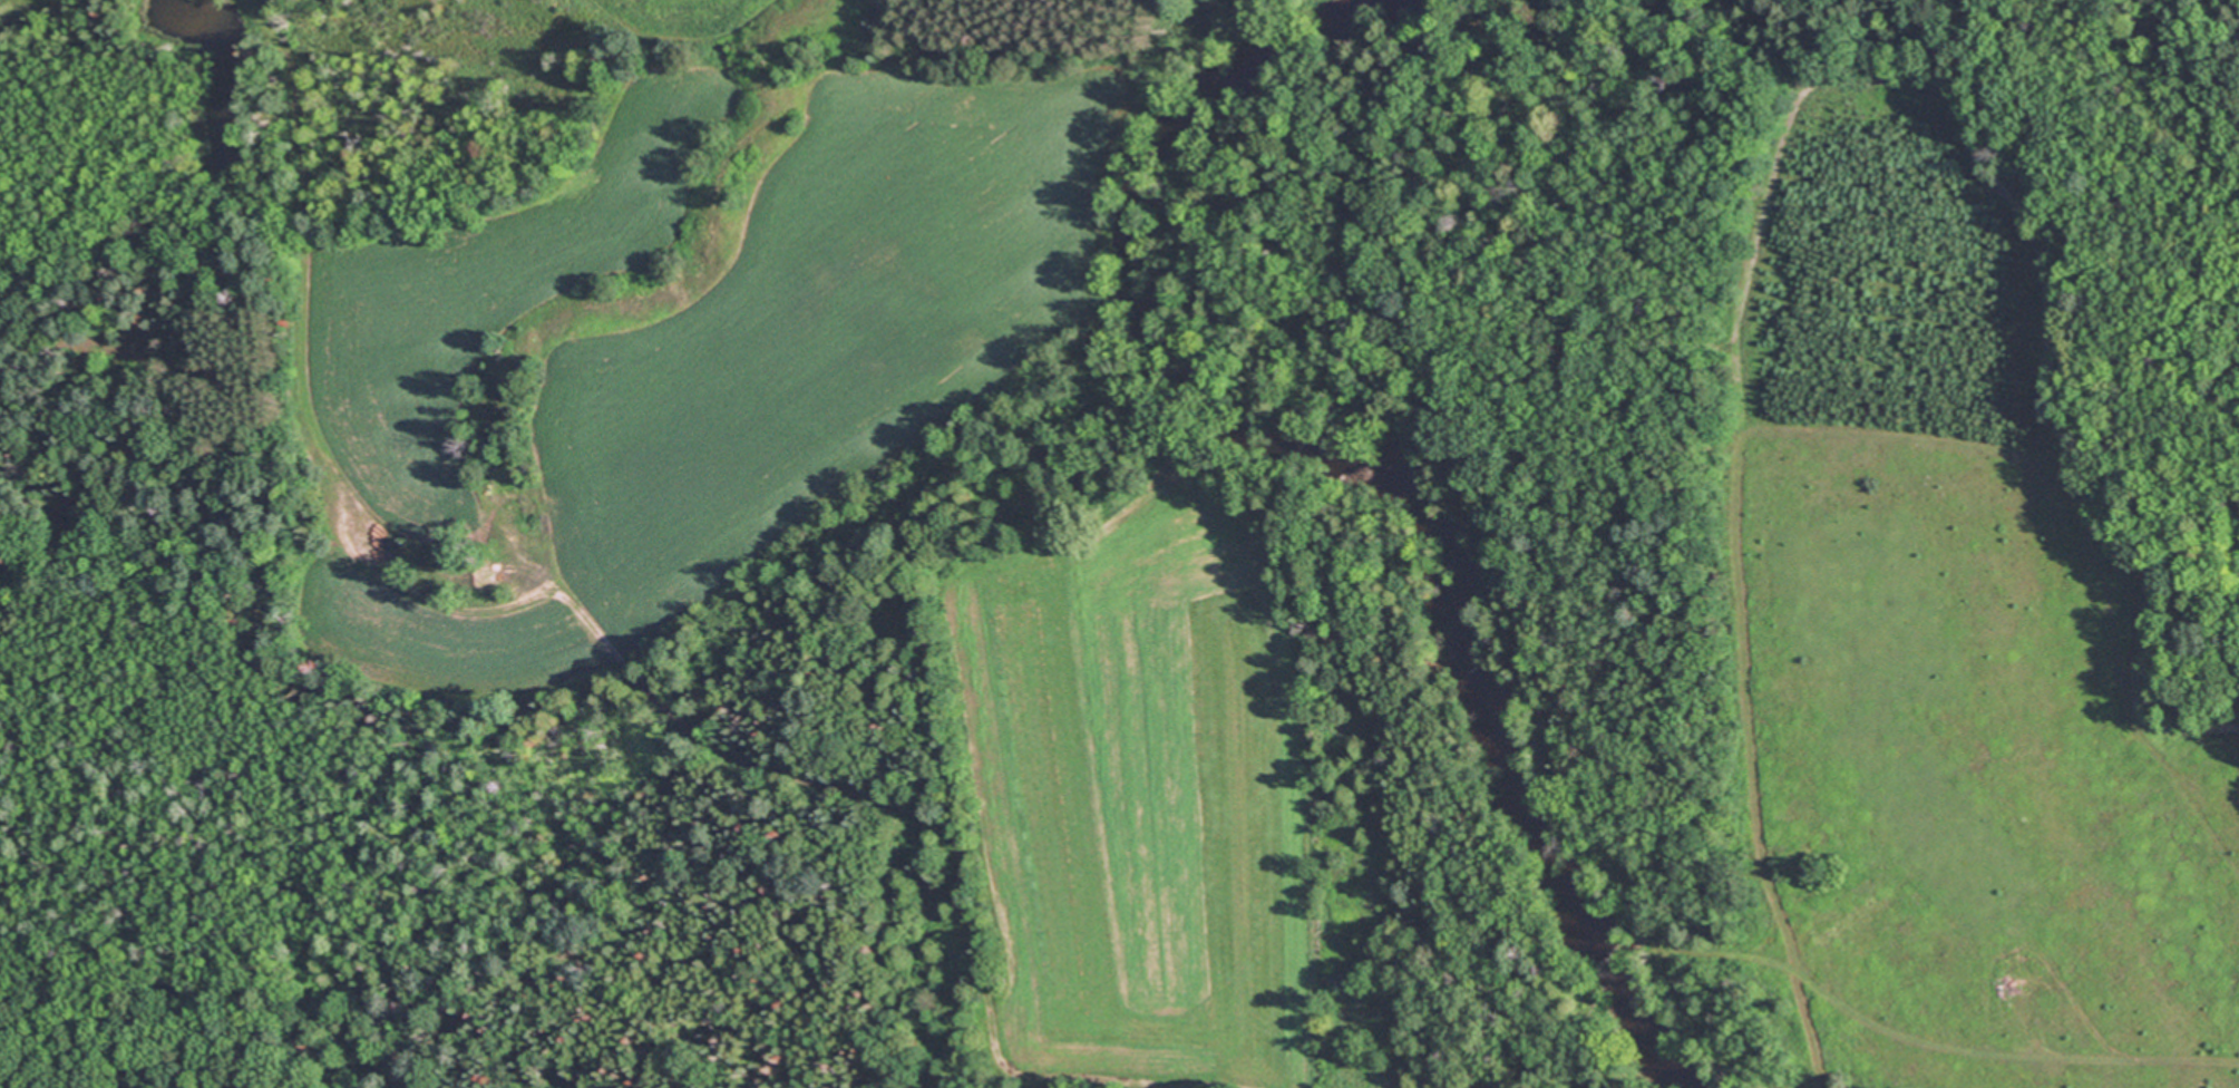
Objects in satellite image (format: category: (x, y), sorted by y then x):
river: (1371, 479)
road: (808, 789)

